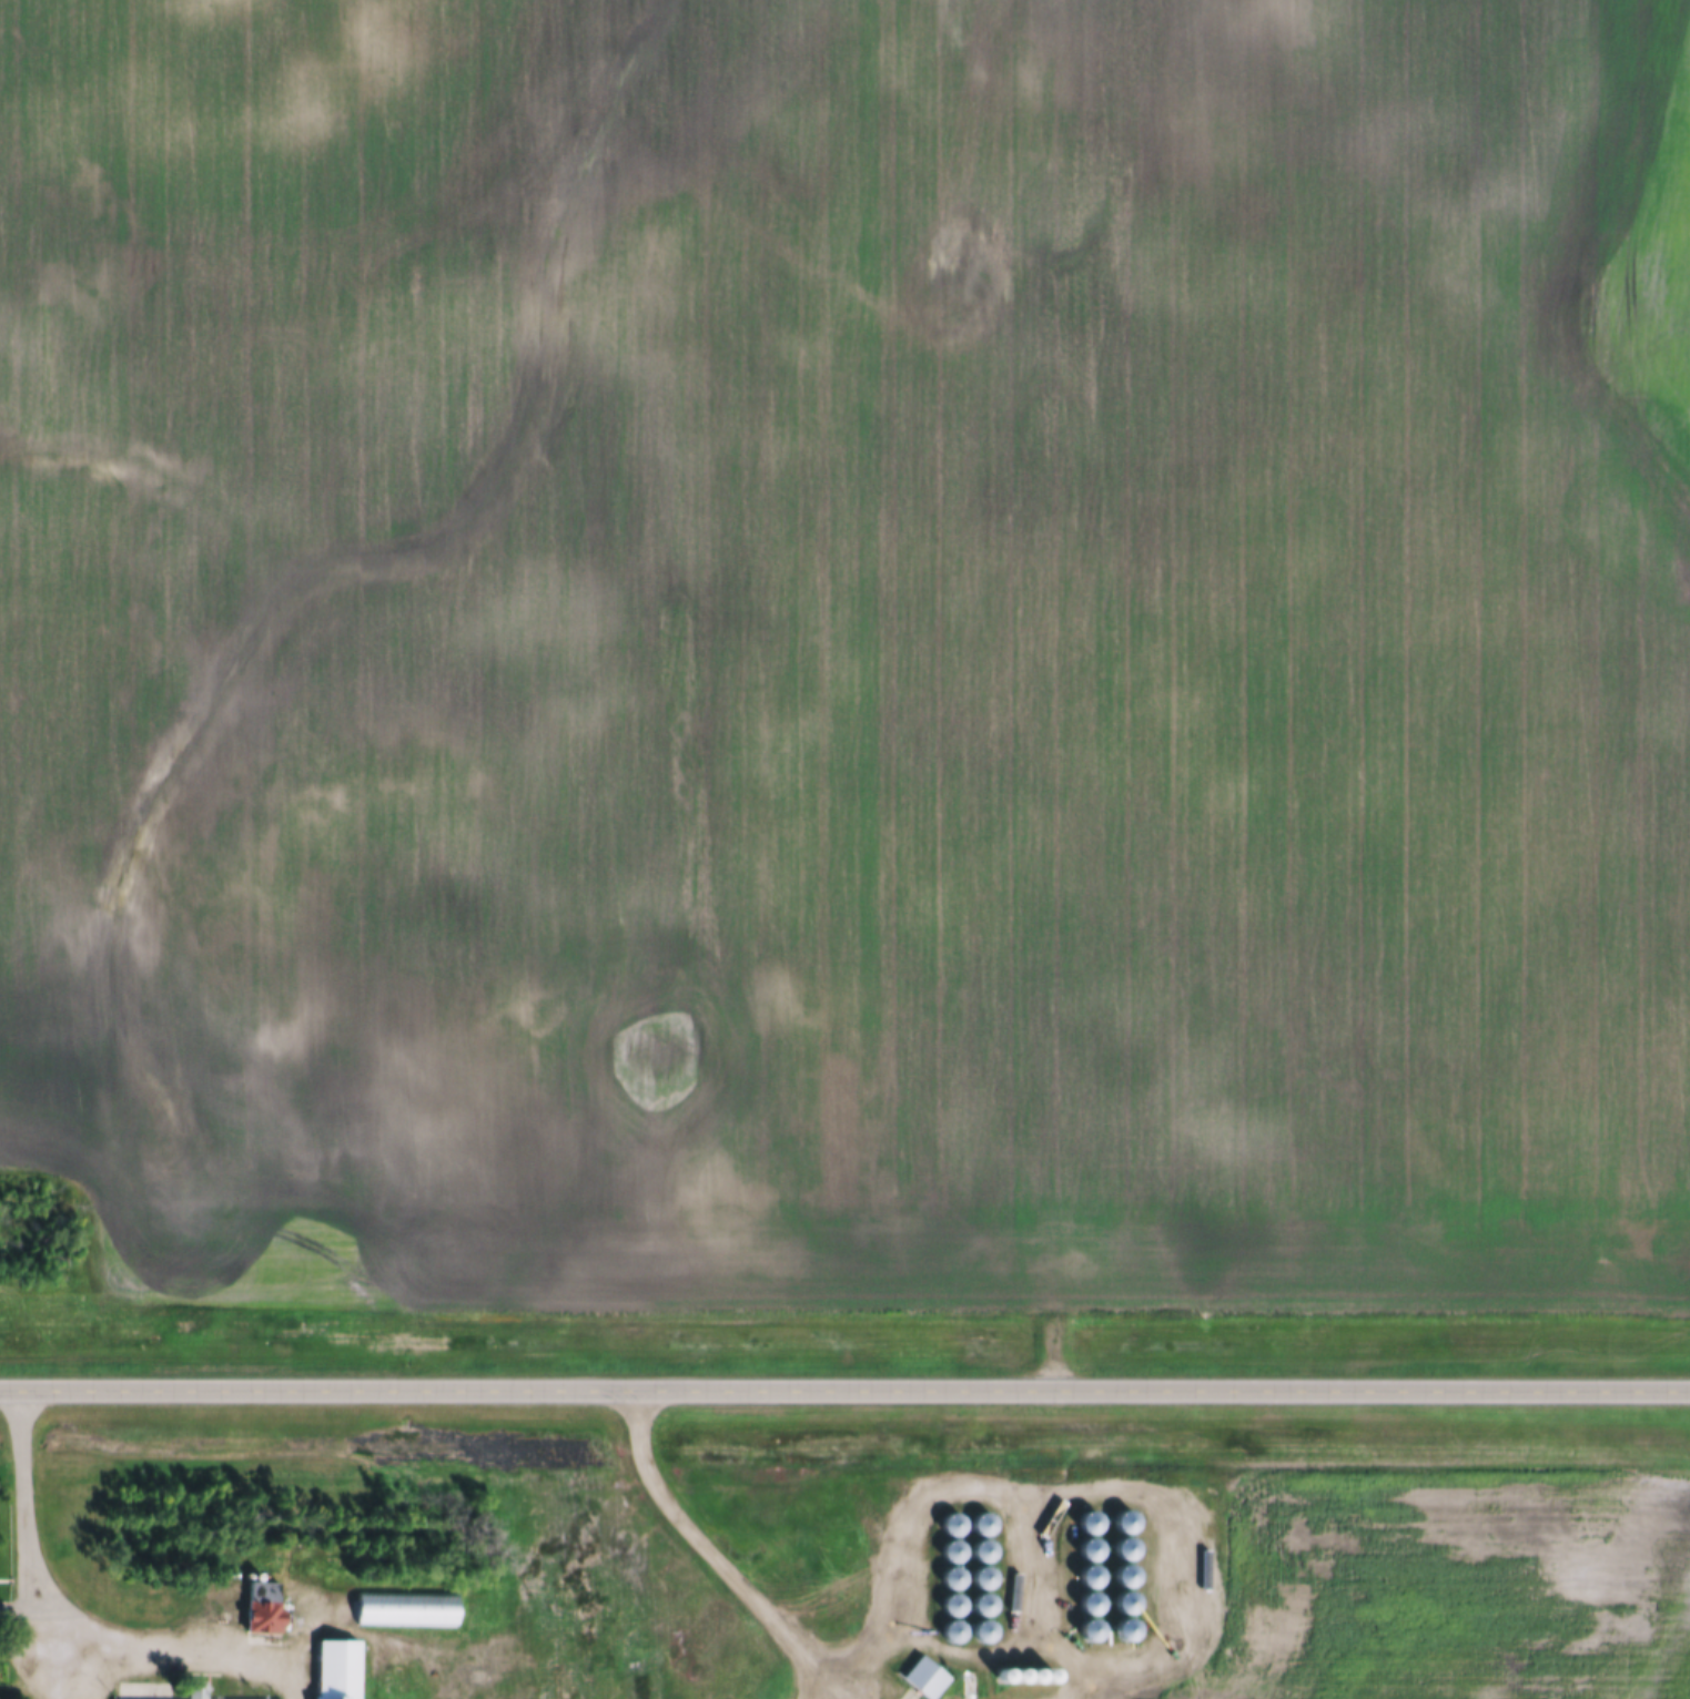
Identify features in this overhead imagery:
road: (844, 1388)
road: (968, 1481)
road: (709, 1555)
building: (261, 1609)
building: (404, 1611)
road: (65, 1641)
building: (334, 1670)
building: (922, 1679)
building: (196, 1691)

